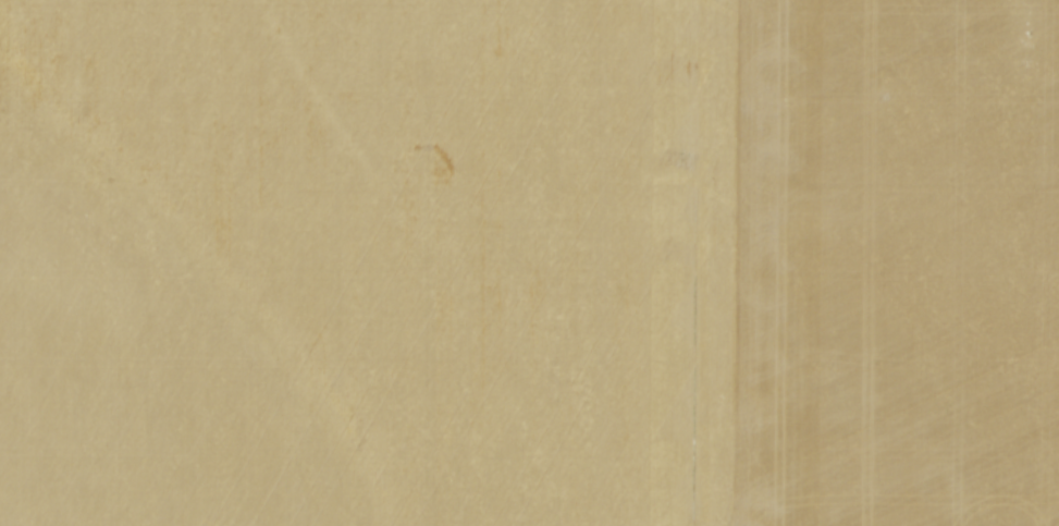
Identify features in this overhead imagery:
crop: (529, 262)

